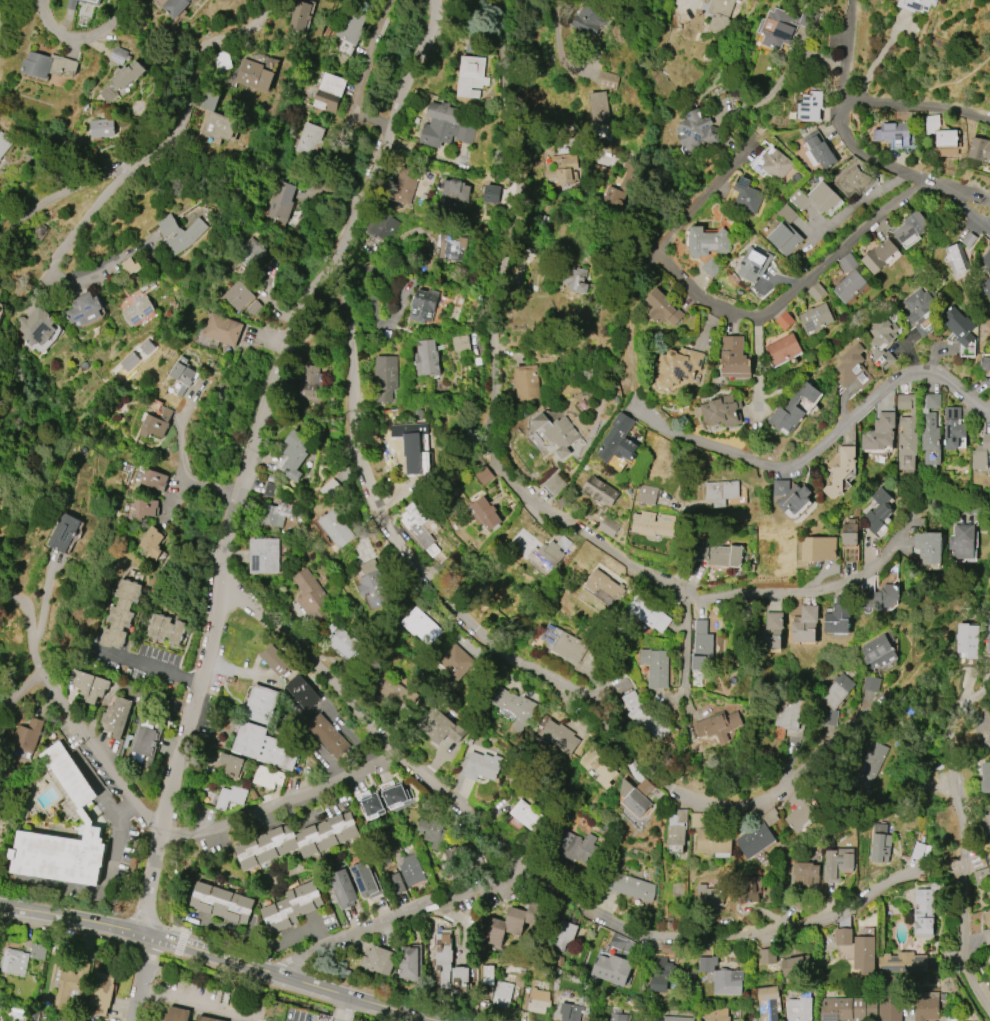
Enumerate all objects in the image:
building: (79, 0)
building: (347, 0)
building: (350, 0)
building: (72, 4)
building: (920, 6)
road: (6, 7)
building: (176, 7)
building: (723, 15)
building: (300, 16)
building: (588, 18)
building: (352, 26)
building: (783, 27)
road: (437, 30)
road: (78, 39)
road: (846, 47)
park: (979, 54)
building: (120, 56)
building: (221, 61)
building: (48, 64)
road: (793, 67)
building: (255, 76)
building: (472, 76)
building: (609, 78)
building: (111, 89)
building: (330, 91)
building: (602, 106)
building: (810, 107)
road: (916, 108)
building: (216, 119)
building: (932, 123)
building: (440, 124)
building: (102, 128)
building: (698, 131)
building: (896, 133)
road: (161, 140)
building: (310, 140)
building: (4, 143)
building: (947, 143)
building: (979, 148)
building: (556, 149)
building: (819, 151)
road: (865, 153)
building: (776, 165)
building: (564, 169)
building: (601, 174)
building: (853, 182)
building: (624, 183)
building: (406, 186)
building: (456, 190)
building: (493, 194)
building: (748, 198)
building: (819, 199)
building: (281, 201)
building: (446, 205)
road: (959, 207)
building: (547, 209)
building: (543, 222)
building: (382, 226)
building: (910, 227)
building: (40, 229)
building: (786, 231)
building: (181, 233)
building: (970, 240)
building: (708, 241)
building: (453, 248)
building: (251, 253)
building: (879, 255)
building: (986, 258)
building: (957, 259)
road: (54, 263)
building: (848, 263)
building: (754, 265)
building: (130, 266)
building: (712, 267)
building: (574, 285)
building: (986, 285)
building: (534, 286)
building: (850, 286)
building: (817, 291)
building: (239, 295)
building: (424, 306)
building: (254, 307)
building: (85, 308)
building: (664, 308)
building: (138, 311)
road: (769, 312)
building: (920, 312)
building: (815, 319)
building: (784, 320)
building: (960, 326)
building: (37, 327)
building: (222, 329)
building: (882, 342)
building: (462, 343)
building: (783, 349)
road: (759, 355)
building: (428, 358)
building: (735, 358)
building: (986, 363)
building: (677, 367)
building: (853, 368)
building: (387, 373)
building: (183, 374)
building: (310, 380)
building: (528, 386)
building: (805, 405)
building: (795, 408)
road: (266, 409)
building: (722, 411)
building: (419, 414)
building: (155, 424)
building: (953, 427)
building: (931, 429)
building: (290, 431)
building: (907, 432)
building: (557, 433)
building: (880, 433)
building: (619, 441)
road: (823, 445)
building: (414, 448)
building: (982, 454)
building: (293, 455)
road: (184, 457)
road: (499, 471)
building: (840, 471)
building: (485, 475)
building: (155, 479)
building: (554, 484)
building: (144, 487)
building: (272, 490)
building: (601, 491)
building: (722, 491)
building: (647, 494)
building: (790, 496)
building: (145, 508)
building: (879, 510)
building: (278, 513)
building: (486, 513)
building: (650, 524)
building: (420, 526)
building: (335, 528)
building: (64, 532)
building: (850, 533)
building: (153, 542)
building: (962, 542)
building: (929, 547)
building: (819, 549)
building: (549, 554)
building: (719, 554)
building: (361, 555)
building: (264, 556)
building: (452, 572)
building: (603, 584)
building: (375, 589)
building: (309, 595)
building: (883, 597)
building: (648, 610)
road: (39, 612)
building: (121, 612)
building: (838, 618)
building: (806, 625)
building: (422, 627)
building: (166, 629)
building: (770, 632)
building: (988, 634)
road: (687, 637)
building: (966, 640)
building: (344, 643)
building: (564, 643)
road: (499, 646)
building: (703, 646)
building: (878, 652)
building: (277, 661)
building: (456, 662)
road: (141, 663)
building: (655, 667)
building: (872, 684)
building: (89, 685)
building: (396, 690)
building: (836, 691)
building: (303, 692)
road: (23, 696)
road: (967, 698)
building: (261, 704)
building: (513, 705)
building: (910, 710)
building: (640, 711)
building: (116, 716)
building: (792, 716)
building: (828, 717)
building: (719, 725)
road: (81, 729)
building: (443, 729)
building: (29, 735)
building: (329, 735)
building: (560, 736)
building: (146, 740)
building: (987, 743)
building: (266, 746)
building: (668, 761)
building: (601, 762)
building: (870, 766)
building: (233, 767)
building: (481, 767)
building: (270, 776)
building: (985, 778)
building: (646, 787)
building: (916, 789)
road: (952, 793)
building: (396, 794)
building: (253, 795)
building: (230, 797)
road: (280, 797)
building: (633, 799)
building: (371, 805)
building: (802, 810)
building: (84, 815)
building: (528, 816)
road: (206, 817)
building: (770, 817)
building: (699, 820)
building: (882, 820)
building: (986, 823)
building: (677, 828)
building: (880, 828)
building: (432, 832)
road: (117, 840)
building: (755, 840)
building: (296, 841)
building: (714, 841)
building: (575, 847)
building: (881, 849)
building: (482, 856)
building: (387, 859)
building: (456, 862)
building: (837, 864)
building: (387, 870)
building: (412, 870)
building: (806, 875)
building: (982, 876)
building: (584, 877)
building: (364, 879)
road: (549, 881)
building: (397, 884)
building: (631, 886)
road: (154, 887)
building: (343, 888)
building: (748, 889)
building: (711, 897)
building: (223, 902)
building: (797, 902)
building: (292, 906)
building: (927, 908)
road: (399, 919)
building: (513, 923)
road: (963, 925)
building: (987, 927)
building: (565, 935)
building: (844, 936)
building: (444, 944)
building: (669, 949)
building: (38, 951)
building: (864, 951)
building: (989, 952)
building: (989, 955)
road: (218, 956)
building: (766, 956)
building: (380, 960)
building: (14, 961)
building: (411, 962)
building: (708, 963)
building: (919, 963)
building: (796, 965)
building: (612, 969)
building: (345, 971)
building: (490, 974)
building: (662, 974)
building: (443, 976)
road: (137, 977)
building: (988, 979)
building: (461, 981)
building: (541, 981)
building: (887, 982)
building: (727, 983)
building: (71, 987)
building: (0, 988)
building: (527, 989)
building: (102, 993)
building: (502, 998)
building: (585, 1000)
building: (539, 1001)
building: (769, 1003)
road: (197, 1004)
building: (890, 1005)
building: (927, 1007)
road: (344, 1009)
building: (800, 1009)
building: (849, 1009)
building: (718, 1012)
building: (572, 1013)
building: (178, 1014)
building: (618, 1016)
building: (68, 1019)
building: (208, 1019)

